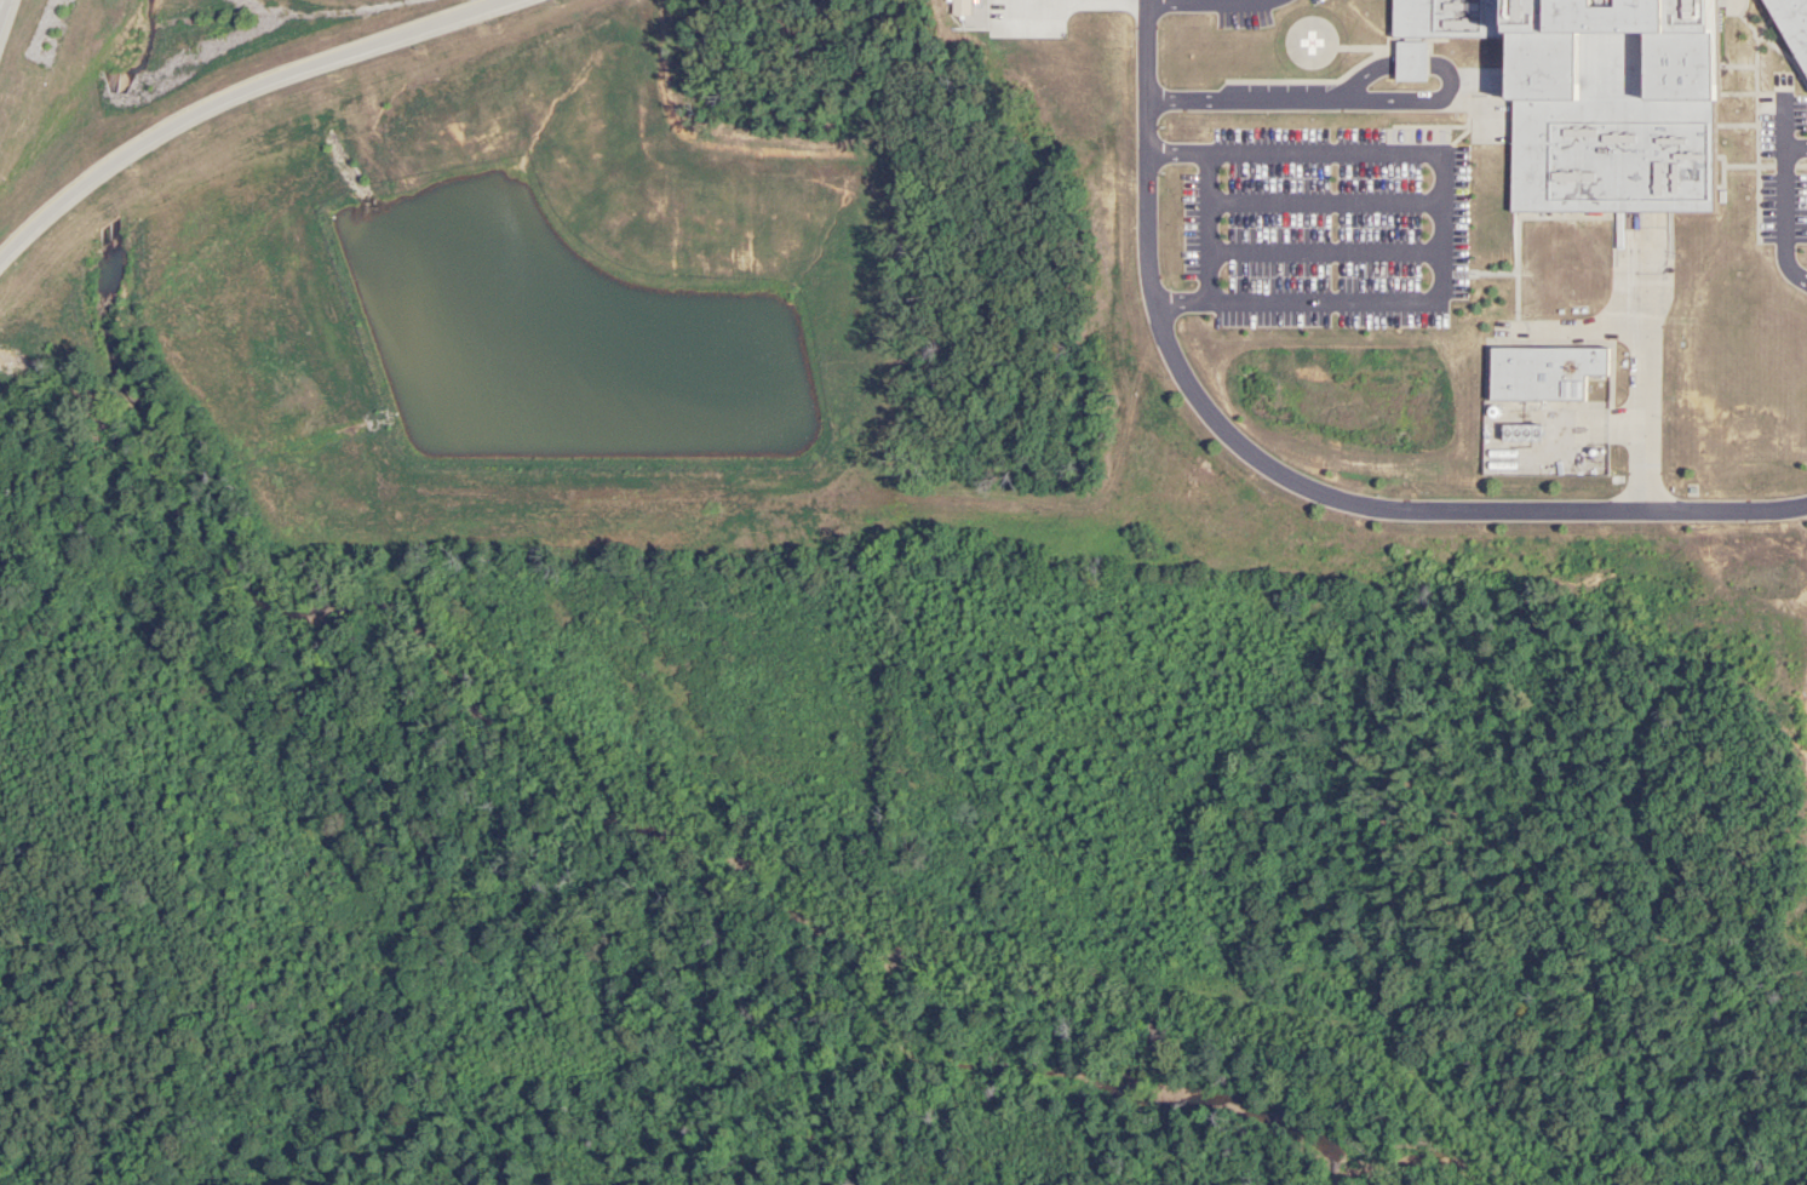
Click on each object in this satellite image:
road: (4, 13)
helipad: (1318, 41)
road: (237, 97)
building: (1605, 281)
road: (1285, 473)

